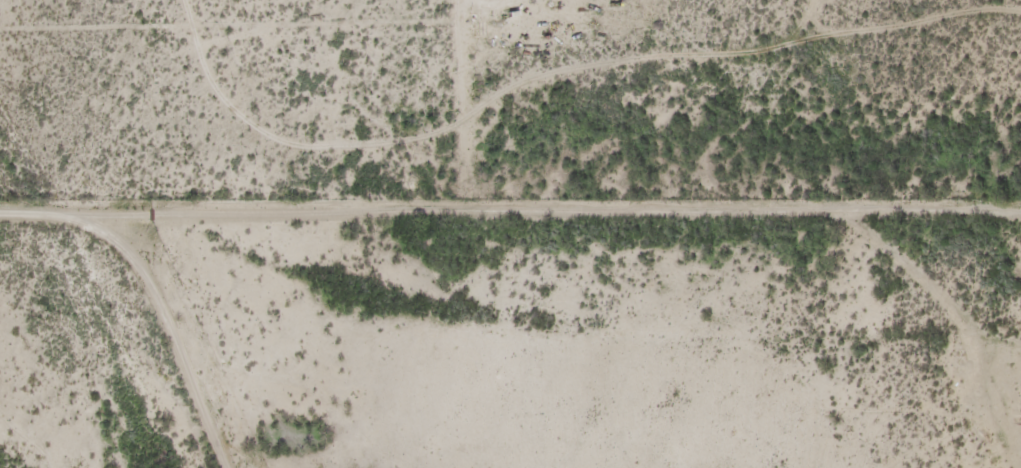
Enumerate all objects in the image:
road: (406, 140)
road: (268, 281)
road: (666, 326)
road: (925, 403)

